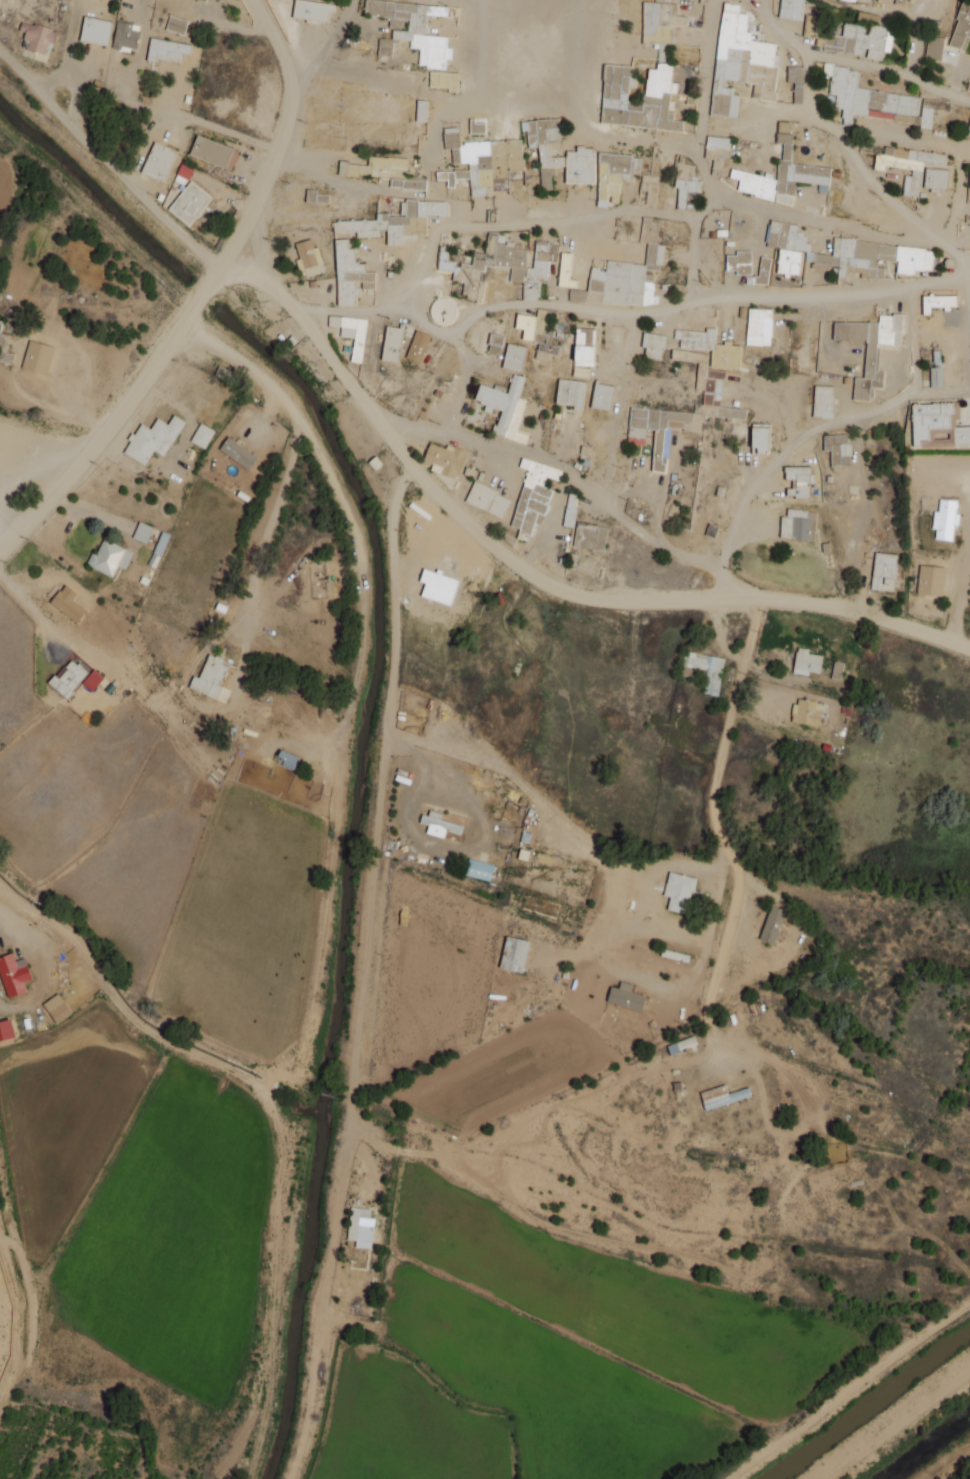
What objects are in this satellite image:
building: (848, 0)
building: (900, 1)
building: (791, 9)
building: (312, 10)
road: (899, 13)
building: (176, 25)
building: (414, 27)
building: (961, 27)
building: (95, 30)
building: (126, 36)
building: (36, 37)
building: (858, 40)
road: (324, 45)
building: (385, 47)
building: (934, 48)
building: (166, 49)
road: (68, 52)
road: (853, 61)
building: (740, 62)
building: (619, 66)
building: (443, 80)
building: (796, 82)
building: (878, 100)
building: (421, 110)
road: (780, 111)
building: (477, 127)
road: (213, 128)
building: (969, 129)
road: (635, 136)
road: (948, 144)
building: (544, 146)
building: (716, 147)
building: (213, 152)
road: (704, 154)
building: (930, 158)
building: (158, 161)
building: (482, 162)
road: (107, 163)
building: (580, 165)
building: (902, 167)
building: (384, 171)
road: (863, 172)
building: (183, 173)
building: (781, 173)
building: (614, 175)
building: (935, 179)
building: (649, 183)
building: (685, 190)
building: (316, 196)
building: (189, 203)
building: (396, 221)
road: (821, 221)
building: (889, 223)
road: (525, 225)
building: (841, 253)
building: (305, 254)
building: (739, 262)
building: (501, 265)
road: (969, 267)
building: (565, 270)
building: (763, 271)
building: (349, 274)
building: (623, 280)
road: (969, 282)
road: (831, 294)
road: (199, 296)
building: (937, 301)
road: (488, 307)
building: (442, 310)
building: (759, 326)
building: (351, 332)
building: (541, 334)
building: (495, 342)
building: (391, 343)
building: (653, 344)
building: (418, 346)
building: (870, 348)
building: (583, 352)
building: (37, 357)
building: (514, 357)
building: (707, 360)
building: (936, 370)
building: (571, 393)
building: (602, 396)
building: (823, 401)
building: (505, 407)
building: (730, 412)
building: (937, 425)
building: (656, 430)
building: (202, 435)
building: (760, 437)
building: (153, 438)
building: (837, 448)
building: (238, 452)
building: (444, 459)
road: (499, 459)
building: (798, 480)
building: (533, 495)
building: (487, 499)
building: (569, 510)
building: (945, 519)
building: (794, 524)
building: (142, 532)
building: (590, 536)
building: (161, 543)
building: (109, 557)
road: (699, 559)
building: (883, 571)
road: (533, 575)
building: (930, 580)
road: (724, 581)
building: (68, 603)
building: (806, 661)
building: (704, 669)
building: (837, 670)
building: (70, 676)
building: (211, 678)
building: (805, 712)
road: (727, 725)
building: (287, 759)
road: (378, 801)
road: (556, 813)
building: (442, 821)
building: (479, 869)
building: (678, 891)
building: (540, 906)
building: (772, 924)
building: (514, 953)
road: (718, 953)
building: (13, 974)
building: (625, 996)
building: (57, 1008)
building: (721, 1096)
building: (360, 1226)

